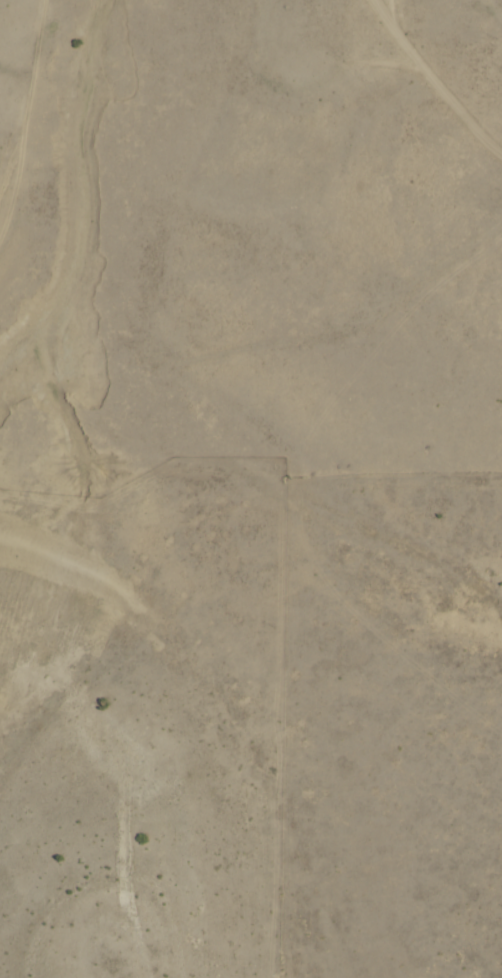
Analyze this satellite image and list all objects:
road: (337, 183)
road: (77, 185)

